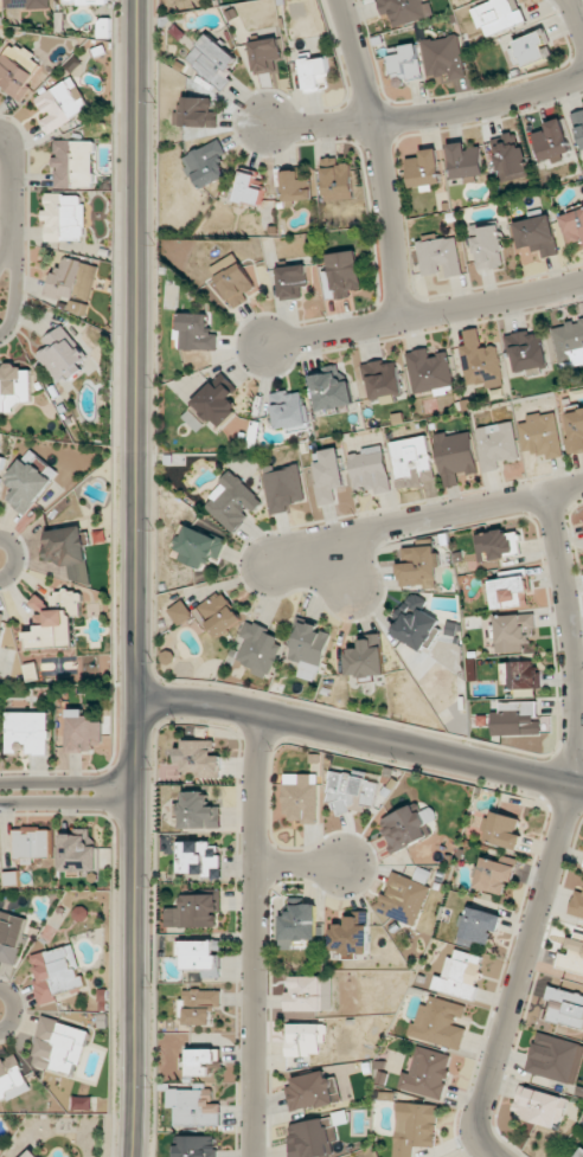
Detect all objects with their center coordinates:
building: (84, 1)
building: (26, 4)
building: (405, 11)
building: (498, 15)
road: (575, 20)
building: (530, 49)
building: (265, 54)
building: (443, 57)
building: (212, 60)
building: (405, 64)
building: (17, 68)
building: (315, 72)
building: (62, 103)
building: (198, 113)
road: (428, 114)
building: (578, 124)
building: (552, 141)
road: (374, 156)
building: (508, 156)
building: (466, 161)
building: (73, 163)
building: (206, 163)
building: (425, 169)
building: (337, 180)
building: (295, 187)
road: (13, 188)
building: (248, 189)
building: (64, 217)
building: (572, 224)
building: (534, 234)
building: (487, 245)
building: (440, 256)
building: (341, 275)
building: (72, 279)
road: (13, 281)
building: (231, 281)
building: (291, 281)
road: (424, 313)
building: (196, 332)
building: (569, 343)
building: (526, 351)
building: (62, 354)
building: (480, 360)
building: (429, 371)
building: (383, 379)
building: (13, 386)
building: (329, 387)
building: (217, 400)
building: (288, 409)
building: (193, 420)
building: (575, 431)
building: (540, 435)
building: (496, 444)
building: (455, 456)
building: (412, 461)
building: (1, 463)
building: (27, 482)
building: (283, 487)
building: (232, 501)
road: (424, 519)
building: (496, 544)
building: (65, 546)
building: (198, 547)
building: (419, 566)
building: (79, 572)
road: (135, 578)
building: (510, 590)
building: (180, 612)
building: (219, 613)
building: (1, 621)
building: (53, 621)
building: (415, 623)
building: (513, 631)
building: (258, 649)
building: (309, 649)
building: (366, 657)
building: (520, 674)
building: (515, 719)
building: (28, 731)
building: (83, 732)
road: (360, 739)
building: (199, 757)
road: (66, 782)
building: (351, 791)
building: (301, 796)
road: (68, 801)
building: (198, 811)
building: (408, 827)
building: (502, 830)
road: (557, 834)
building: (32, 842)
building: (77, 851)
building: (197, 857)
road: (300, 867)
building: (493, 875)
building: (404, 899)
building: (577, 904)
building: (193, 911)
building: (79, 913)
building: (476, 926)
building: (300, 927)
building: (351, 934)
building: (9, 937)
road: (254, 937)
building: (199, 953)
building: (572, 954)
building: (56, 972)
building: (459, 973)
building: (310, 994)
building: (199, 1005)
building: (565, 1007)
building: (438, 1023)
building: (305, 1039)
building: (59, 1044)
building: (555, 1058)
building: (200, 1060)
building: (425, 1073)
building: (12, 1078)
building: (313, 1091)
building: (83, 1103)
building: (193, 1106)
building: (538, 1106)
building: (414, 1127)
building: (310, 1138)
building: (197, 1146)
building: (32, 1153)
building: (579, 1153)

